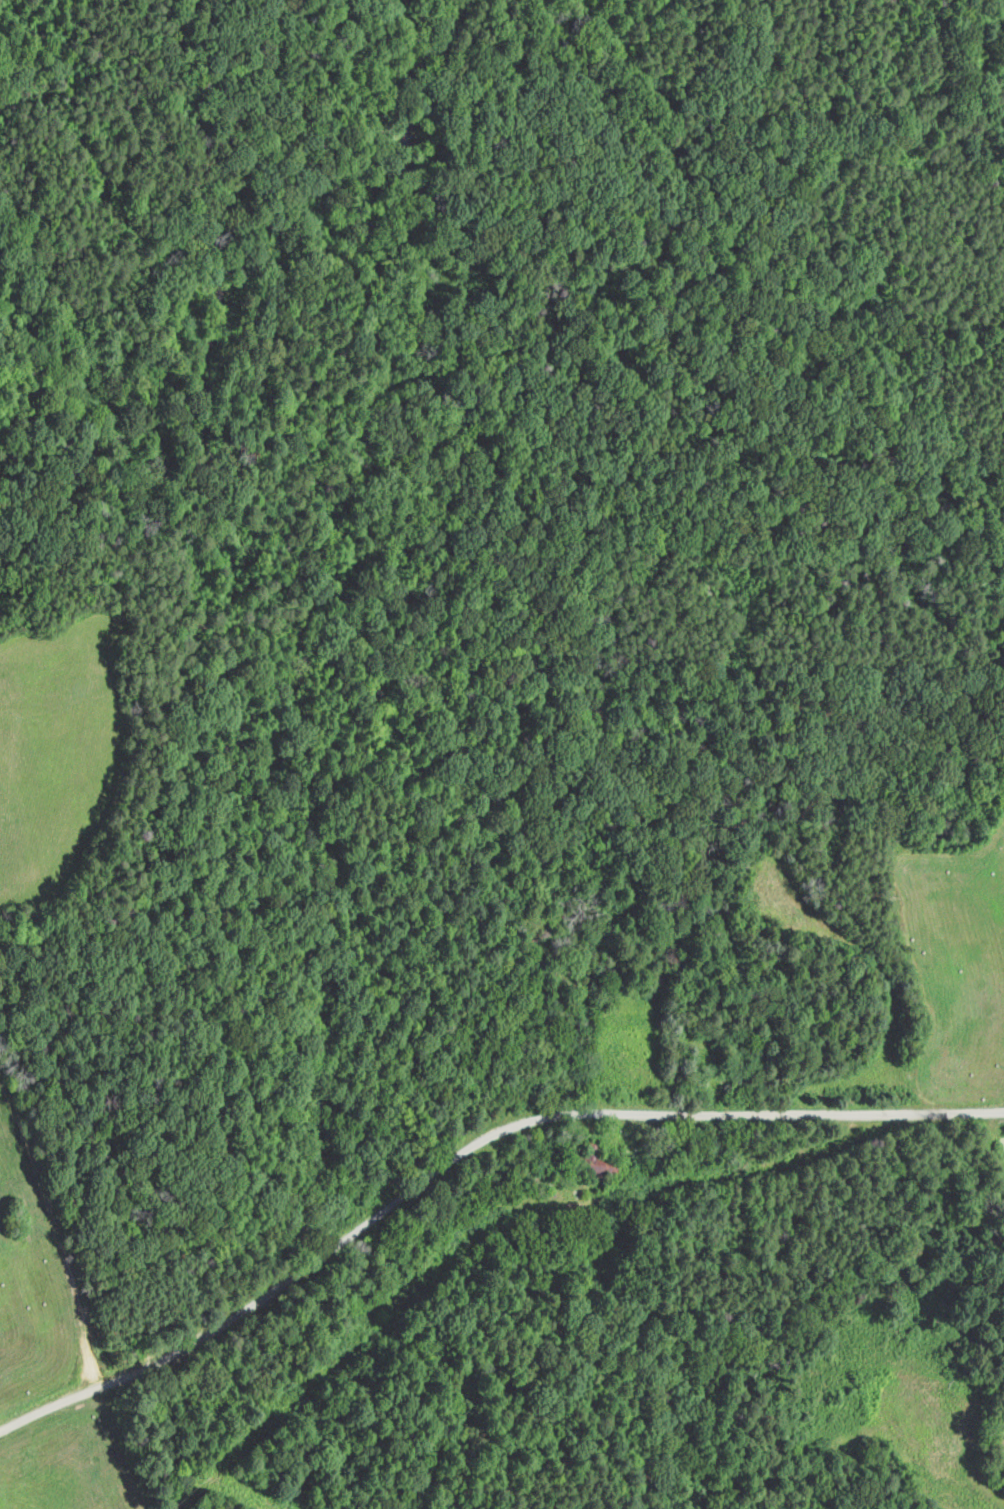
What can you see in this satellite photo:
road: (465, 1151)

